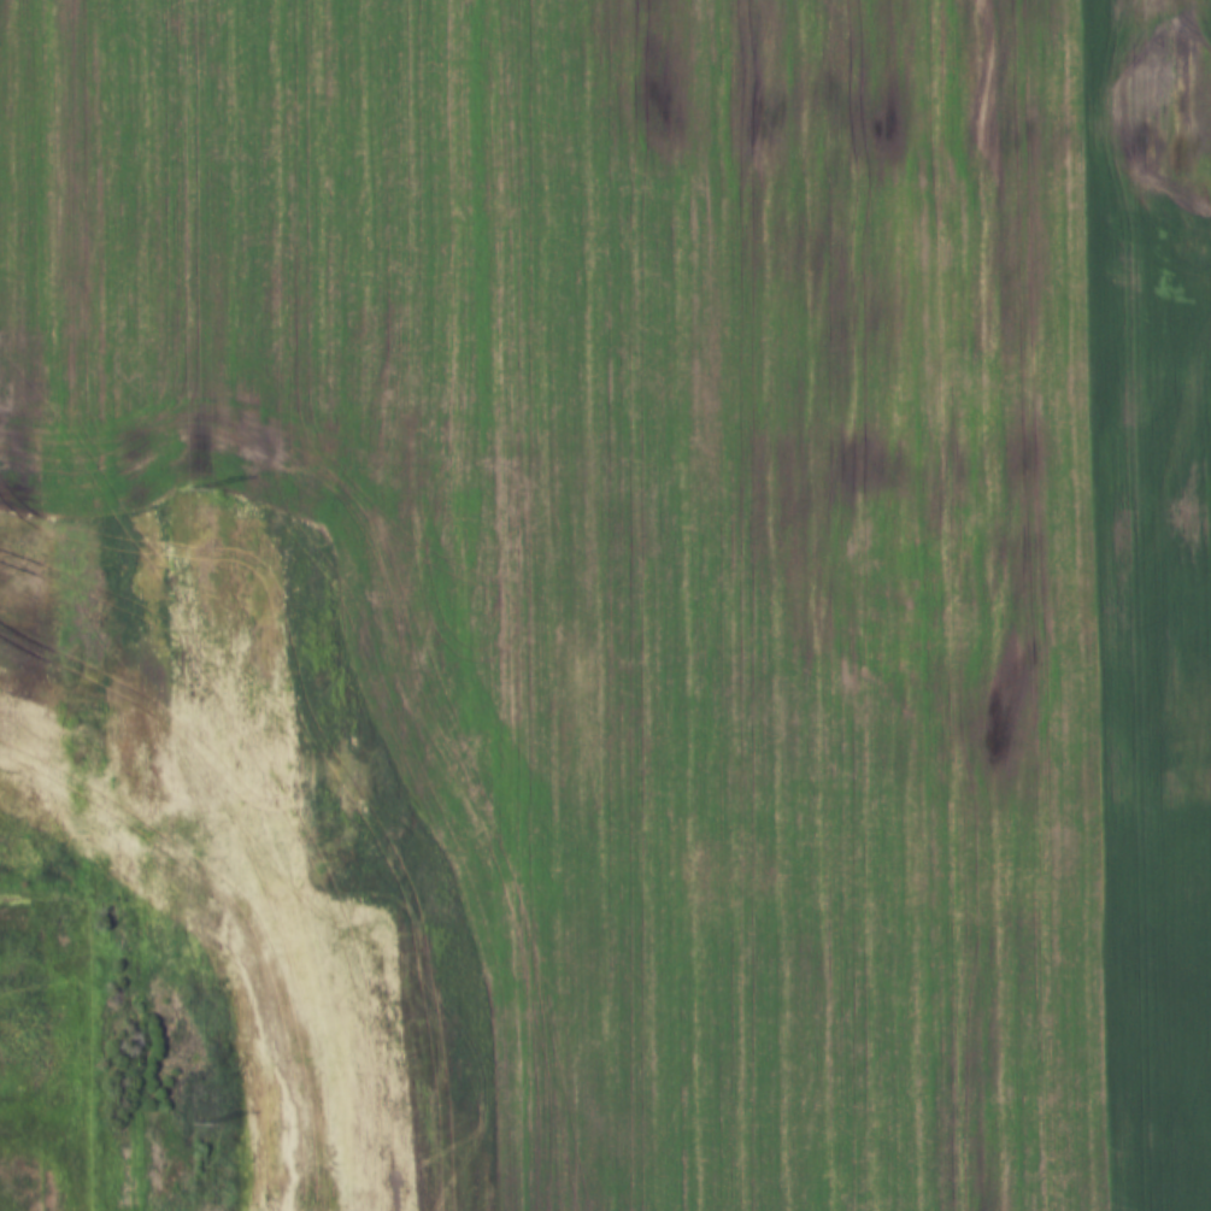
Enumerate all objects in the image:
power tower: (193, 488)
power tower: (199, 1124)

